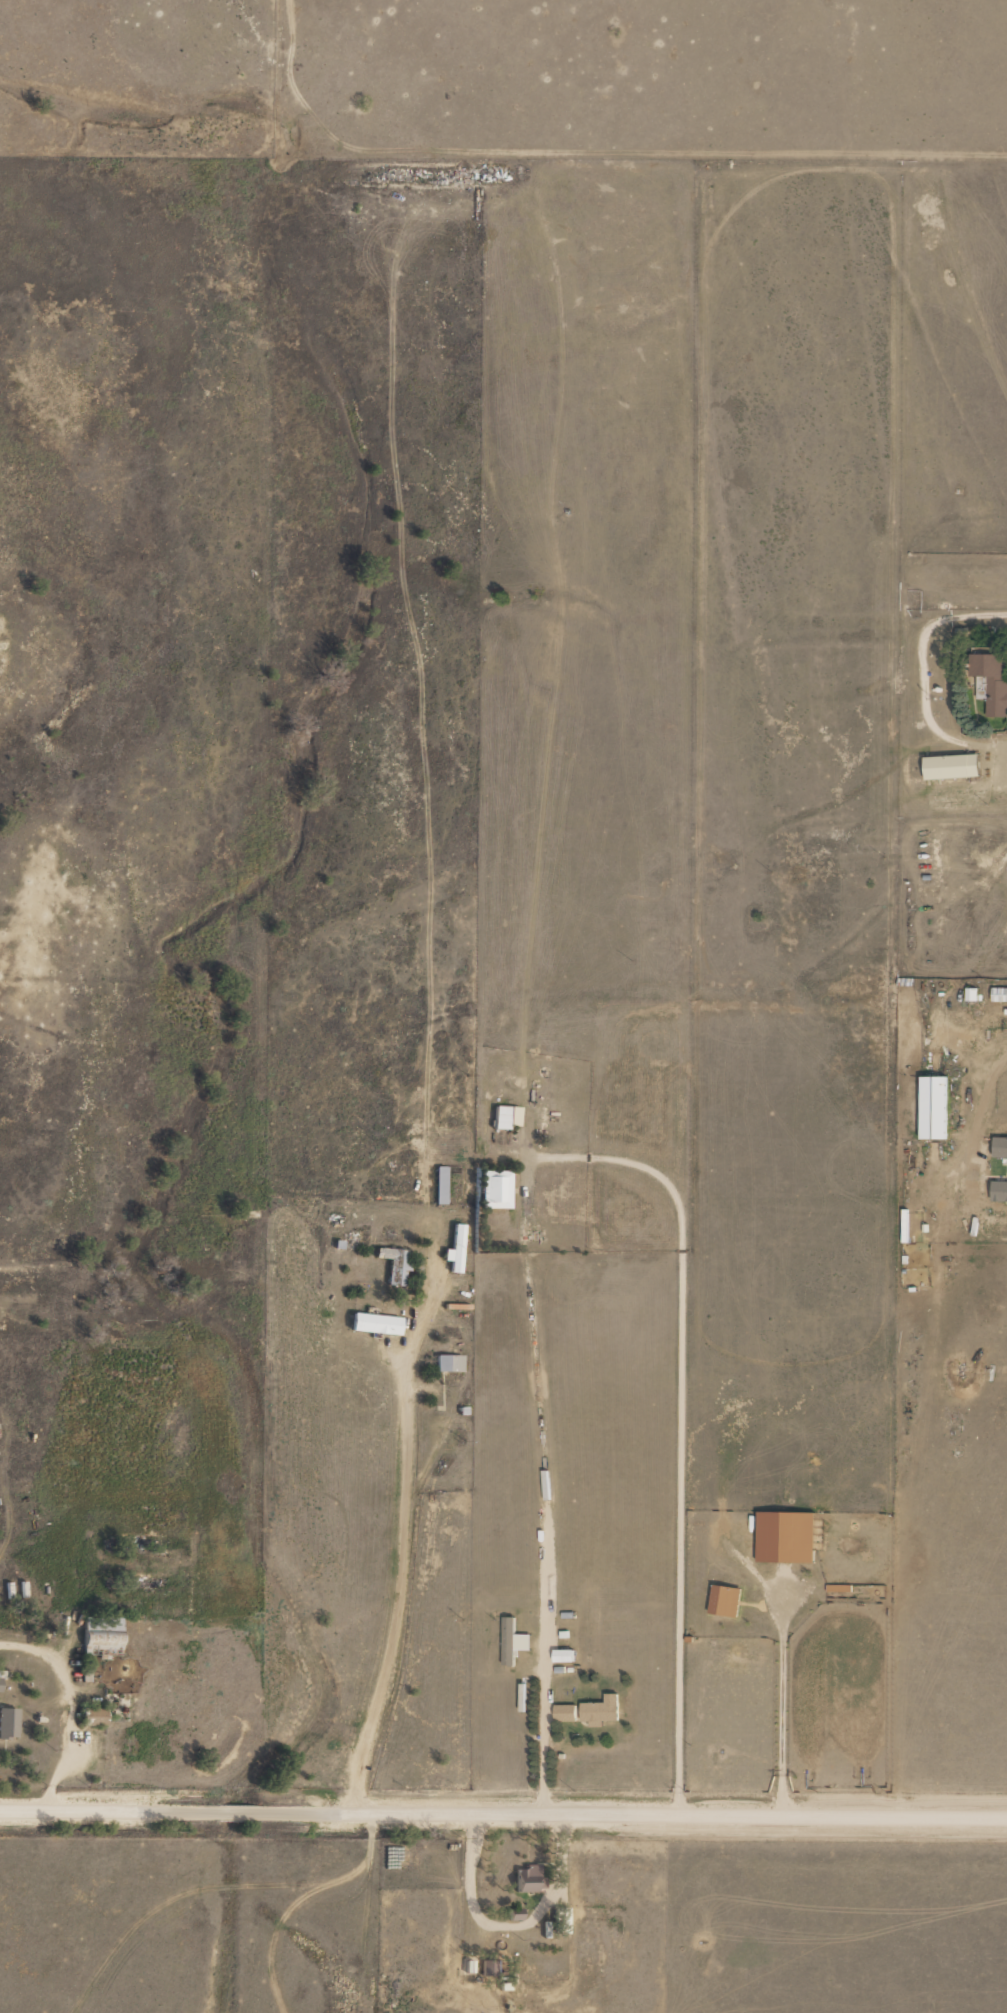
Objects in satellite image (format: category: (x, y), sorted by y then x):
building: (991, 685)
building: (951, 767)
building: (999, 996)
road: (970, 1045)
building: (933, 1108)
building: (500, 1118)
building: (439, 1186)
building: (496, 1190)
building: (499, 1222)
building: (456, 1250)
building: (392, 1267)
building: (373, 1326)
building: (448, 1365)
road: (548, 1497)
road: (399, 1547)
building: (99, 1642)
building: (0, 1682)
building: (601, 1711)
building: (565, 1714)
building: (92, 1718)
building: (8, 1724)
road: (503, 1813)
building: (529, 1878)
road: (287, 1915)
building: (514, 1915)
building: (561, 1921)
building: (489, 1968)

